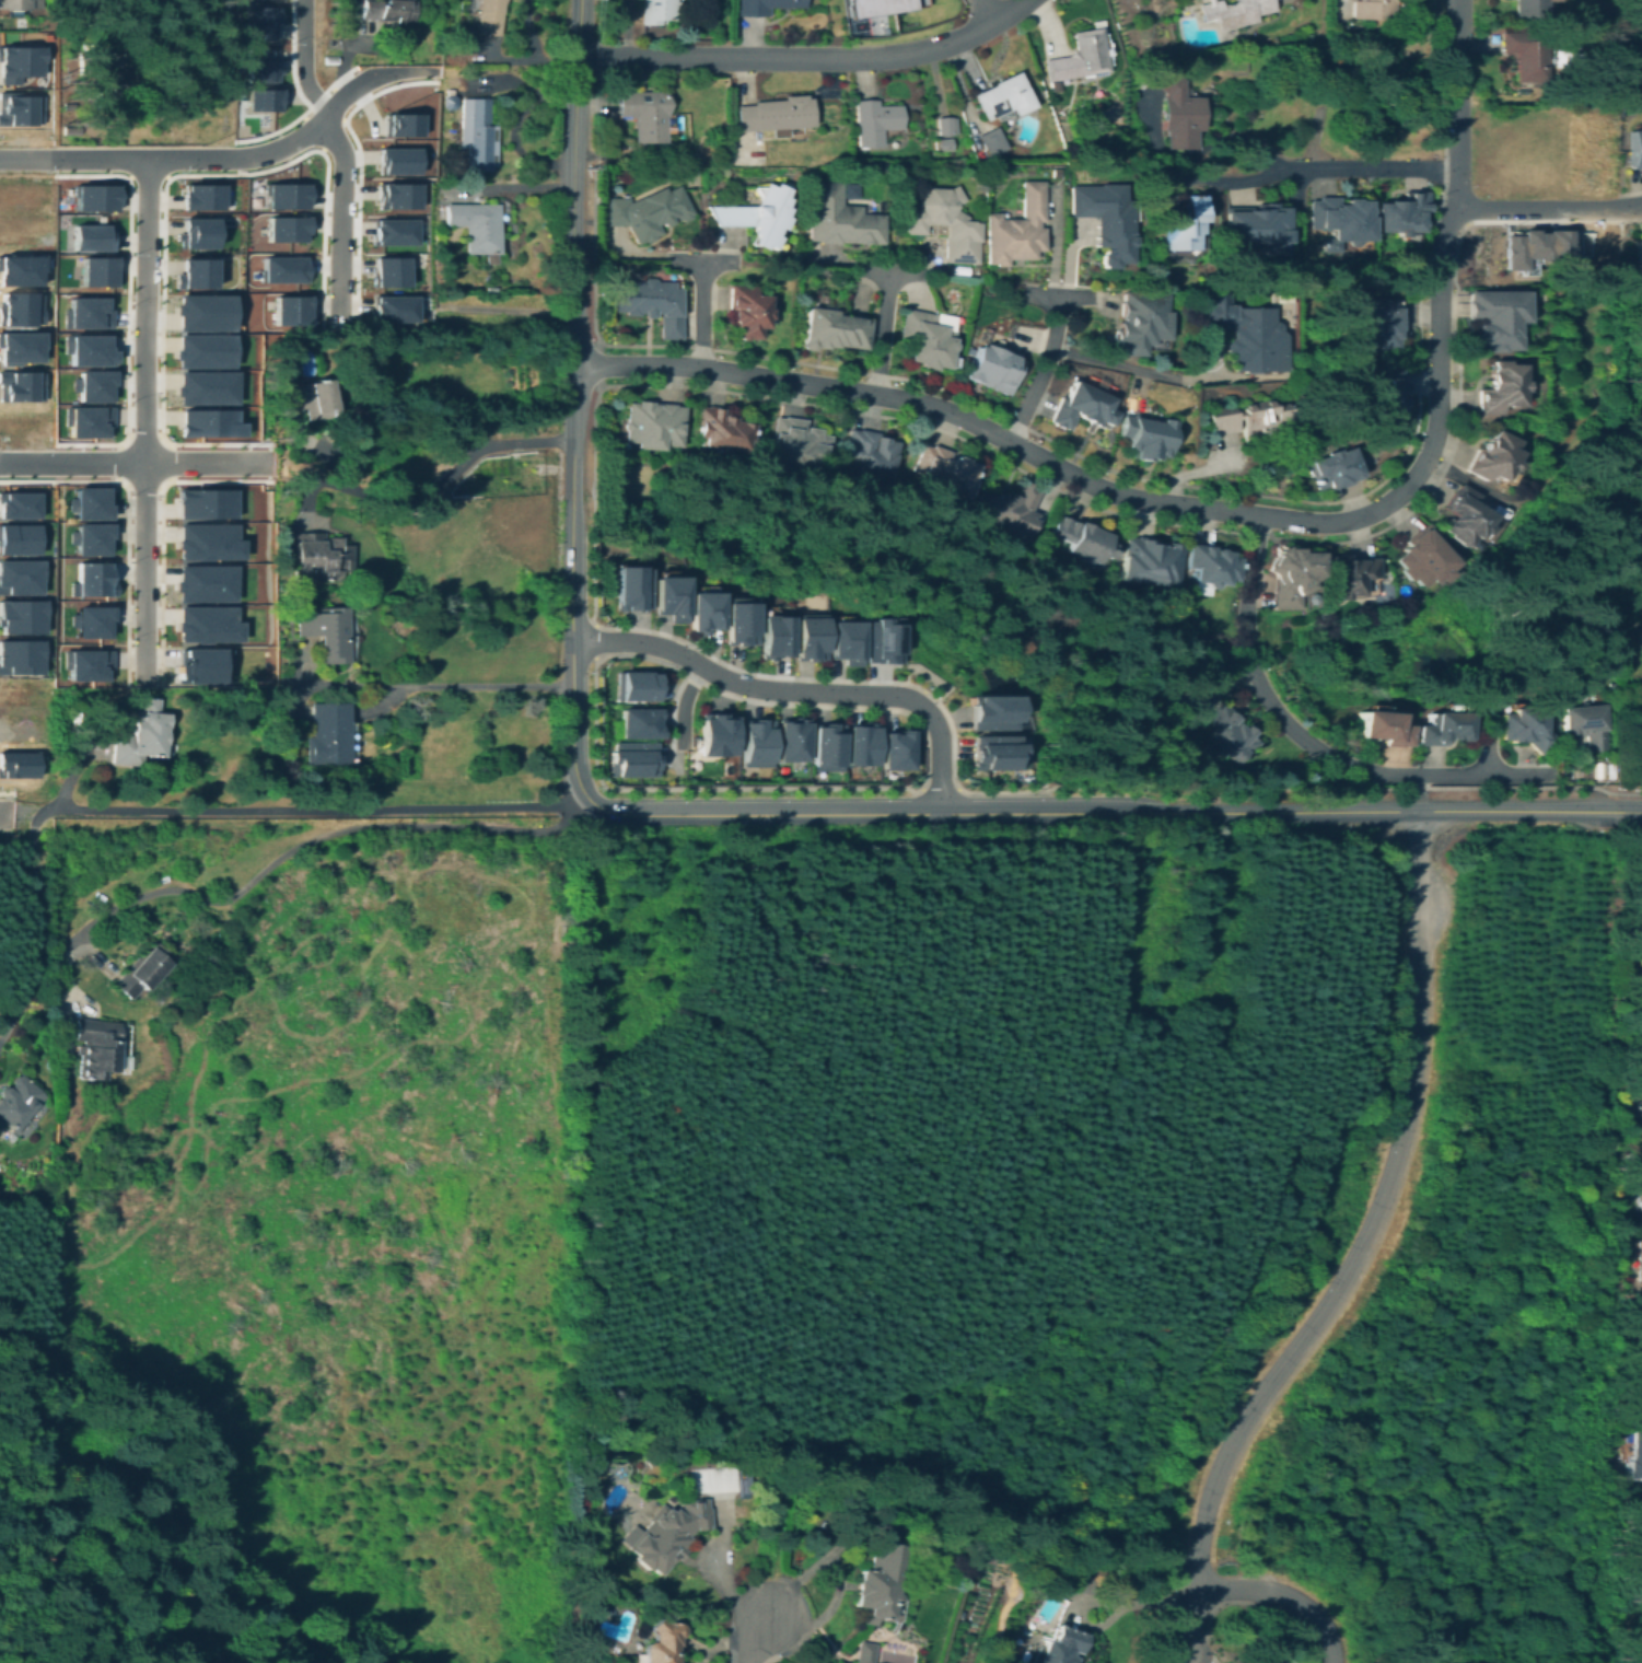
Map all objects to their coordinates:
building: (16, 4)
building: (760, 7)
building: (1639, 8)
building: (876, 9)
building: (1371, 9)
building: (1528, 9)
road: (983, 10)
building: (373, 11)
building: (653, 11)
building: (1233, 12)
building: (482, 16)
building: (251, 21)
road: (529, 45)
building: (1639, 46)
building: (15, 57)
building: (1079, 57)
building: (1525, 57)
road: (807, 58)
road: (296, 59)
building: (251, 62)
road: (385, 67)
road: (1458, 69)
building: (101, 77)
building: (1640, 82)
road: (327, 91)
building: (178, 92)
building: (256, 96)
building: (1003, 97)
building: (15, 108)
building: (1177, 112)
road: (292, 114)
building: (775, 114)
building: (642, 115)
building: (397, 119)
road: (299, 120)
building: (874, 121)
building: (945, 125)
road: (324, 131)
building: (475, 133)
road: (22, 140)
building: (988, 141)
building: (942, 143)
building: (1637, 151)
road: (190, 156)
building: (395, 156)
road: (354, 170)
road: (1363, 171)
road: (1457, 173)
road: (141, 174)
road: (1226, 178)
road: (572, 183)
road: (512, 185)
building: (396, 191)
road: (159, 194)
building: (191, 197)
building: (16, 198)
building: (277, 198)
building: (85, 200)
road: (1631, 205)
road: (1537, 207)
building: (648, 212)
building: (1401, 213)
building: (756, 214)
building: (839, 218)
road: (340, 219)
building: (1103, 219)
road: (1448, 220)
building: (1338, 221)
building: (944, 222)
building: (1181, 224)
building: (1256, 225)
building: (476, 226)
building: (392, 229)
building: (1015, 229)
building: (279, 230)
building: (16, 232)
building: (86, 235)
building: (188, 235)
building: (1541, 246)
building: (1640, 246)
building: (19, 267)
building: (388, 268)
building: (277, 269)
building: (188, 271)
building: (83, 272)
building: (438, 272)
building: (438, 287)
building: (650, 302)
building: (15, 306)
building: (393, 306)
road: (124, 309)
building: (290, 309)
building: (201, 311)
building: (746, 311)
building: (84, 312)
road: (702, 313)
building: (1495, 316)
building: (1139, 321)
building: (942, 322)
building: (1372, 324)
building: (832, 329)
building: (1245, 333)
road: (884, 334)
building: (927, 339)
building: (19, 346)
building: (85, 348)
building: (201, 349)
road: (1102, 360)
road: (598, 364)
building: (991, 368)
road: (1044, 370)
building: (15, 384)
building: (90, 384)
building: (203, 386)
building: (1498, 387)
building: (1384, 393)
building: (311, 398)
building: (1081, 407)
road: (594, 411)
building: (16, 418)
building: (1248, 418)
building: (84, 419)
road: (143, 419)
building: (207, 421)
building: (653, 425)
building: (721, 429)
building: (1144, 437)
road: (143, 443)
building: (794, 444)
road: (1067, 449)
road: (281, 452)
building: (870, 453)
building: (1492, 458)
road: (124, 461)
road: (136, 461)
road: (160, 461)
building: (1332, 468)
building: (944, 473)
road: (142, 478)
road: (433, 486)
road: (1130, 499)
building: (86, 501)
building: (202, 502)
building: (16, 504)
building: (1008, 510)
building: (1463, 516)
road: (126, 520)
road: (160, 527)
building: (88, 537)
building: (15, 538)
building: (1082, 538)
building: (206, 540)
building: (319, 557)
building: (1422, 557)
building: (1150, 561)
building: (1210, 565)
building: (1291, 572)
building: (1344, 573)
building: (16, 577)
building: (90, 578)
building: (203, 581)
road: (571, 584)
building: (634, 590)
building: (673, 597)
building: (708, 612)
building: (19, 615)
building: (90, 619)
building: (205, 623)
building: (743, 624)
building: (326, 632)
building: (778, 636)
road: (639, 640)
building: (813, 640)
building: (885, 641)
road: (594, 642)
building: (848, 642)
building: (18, 655)
building: (84, 663)
building: (200, 664)
road: (430, 685)
building: (638, 686)
building: (1610, 686)
building: (18, 693)
road: (866, 694)
road: (684, 701)
road: (875, 708)
building: (988, 713)
building: (74, 716)
building: (640, 723)
building: (1583, 723)
building: (1525, 726)
building: (1385, 728)
building: (1444, 728)
building: (19, 729)
building: (139, 734)
building: (327, 734)
building: (1227, 734)
building: (718, 735)
building: (793, 742)
building: (758, 743)
road: (1309, 744)
building: (864, 745)
building: (828, 746)
building: (898, 751)
building: (991, 752)
building: (636, 759)
building: (18, 764)
building: (203, 764)
building: (405, 769)
road: (939, 787)
road: (4, 792)
road: (1416, 792)
road: (315, 810)
road: (4, 811)
road: (1629, 811)
road: (1101, 812)
road: (286, 851)
road: (34, 921)
building: (1640, 942)
building: (142, 967)
building: (93, 1047)
building: (14, 1097)
building: (1638, 1110)
building: (1640, 1138)
building: (1640, 1207)
road: (1359, 1254)
building: (1639, 1259)
building: (1635, 1455)
building: (676, 1527)
park: (938, 1559)
building: (877, 1584)
building: (1056, 1592)
road: (1284, 1595)
road: (1136, 1598)
road: (758, 1640)
building: (661, 1641)
building: (1058, 1645)
building: (862, 1651)

